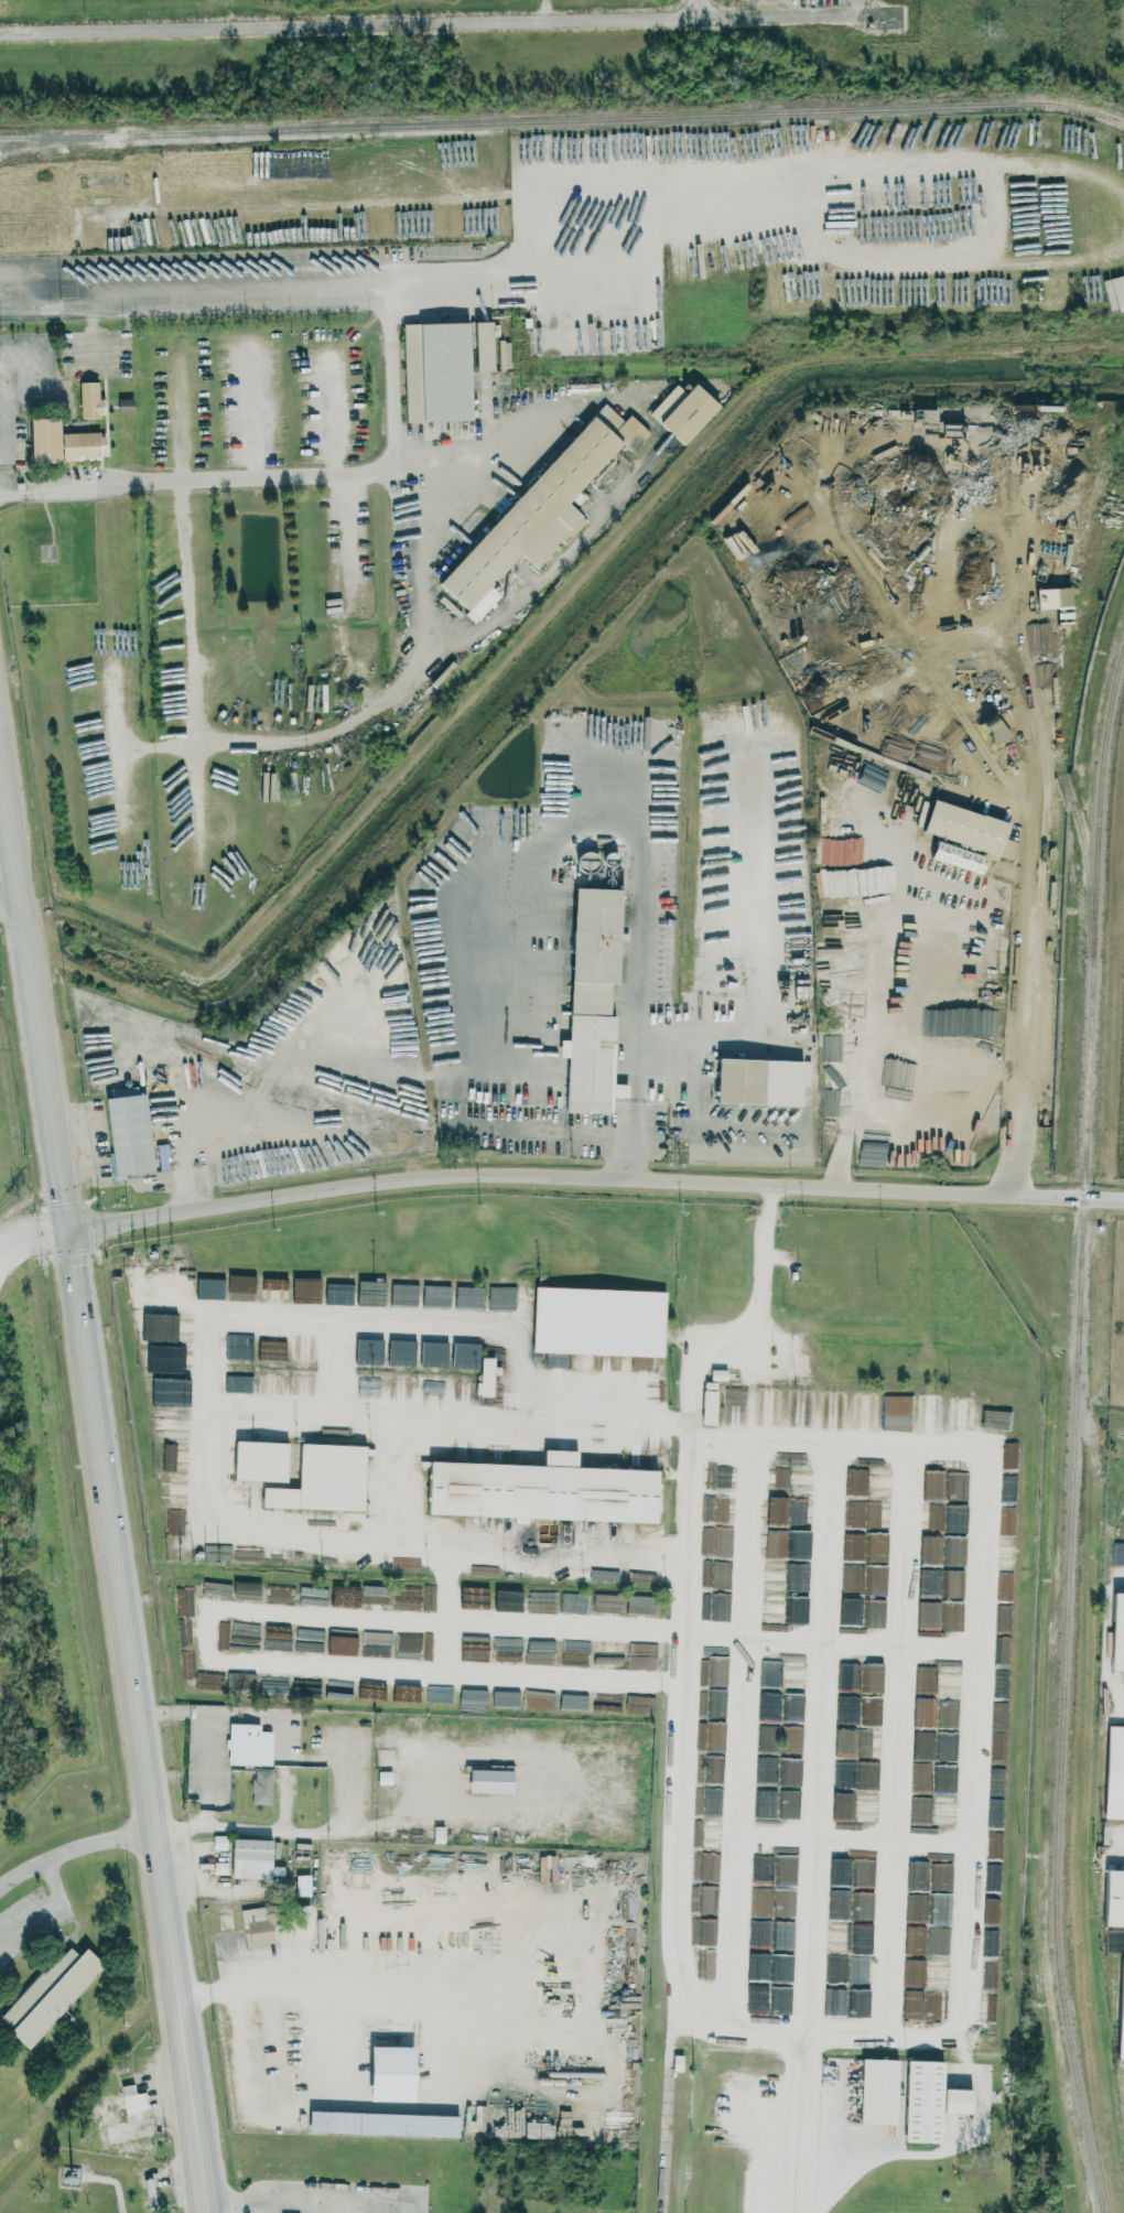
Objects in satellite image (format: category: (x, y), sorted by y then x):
road: (790, 20)
road: (353, 29)
railway: (563, 120)
building: (480, 346)
building: (437, 371)
road: (392, 386)
building: (91, 399)
road: (4, 407)
building: (122, 407)
building: (689, 414)
building: (45, 441)
building: (83, 445)
road: (788, 454)
building: (537, 509)
road: (342, 520)
road: (426, 549)
railway: (1004, 589)
building: (1051, 598)
road: (110, 617)
road: (415, 667)
railway: (998, 674)
road: (979, 694)
road: (190, 706)
building: (993, 731)
road: (973, 778)
road: (120, 827)
building: (966, 827)
building: (957, 857)
road: (1038, 927)
railway: (1094, 990)
road: (642, 1005)
building: (592, 1065)
road: (457, 1069)
building: (742, 1081)
building: (122, 1092)
road: (1023, 1104)
road: (968, 1119)
building: (131, 1133)
road: (597, 1178)
road: (31, 1197)
building: (305, 1298)
road: (360, 1320)
building: (601, 1321)
building: (484, 1378)
road: (205, 1460)
building: (258, 1460)
building: (322, 1479)
road: (110, 1480)
building: (540, 1490)
building: (1116, 1551)
road: (688, 1580)
road: (334, 1612)
building: (1116, 1632)
road: (977, 1677)
road: (271, 1715)
road: (741, 1730)
road: (891, 1742)
building: (250, 1744)
road: (814, 1744)
railway: (1060, 1768)
road: (209, 1769)
building: (1114, 1773)
building: (382, 1778)
building: (488, 1781)
building: (264, 1788)
road: (201, 1826)
road: (853, 1837)
building: (301, 1886)
building: (1115, 1898)
road: (50, 1906)
building: (224, 1918)
building: (256, 1926)
building: (50, 1995)
building: (1120, 2012)
road: (801, 2064)
building: (387, 2073)
building: (879, 2090)
building: (925, 2099)
building: (958, 2101)
building: (118, 2106)
road: (670, 2108)
road: (313, 2203)
road: (273, 2207)
road: (212, 2212)

